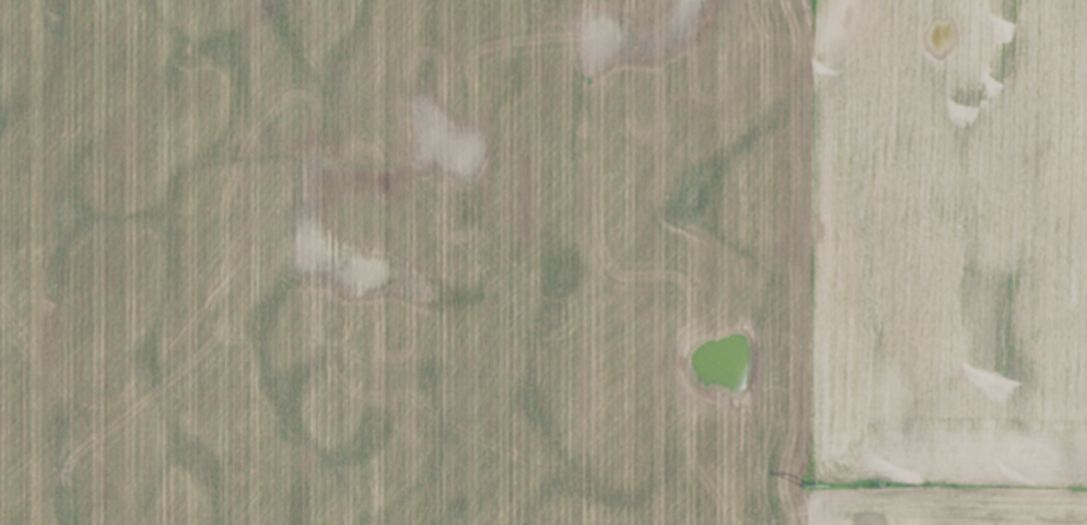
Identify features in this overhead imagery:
power tower: (809, 483)

